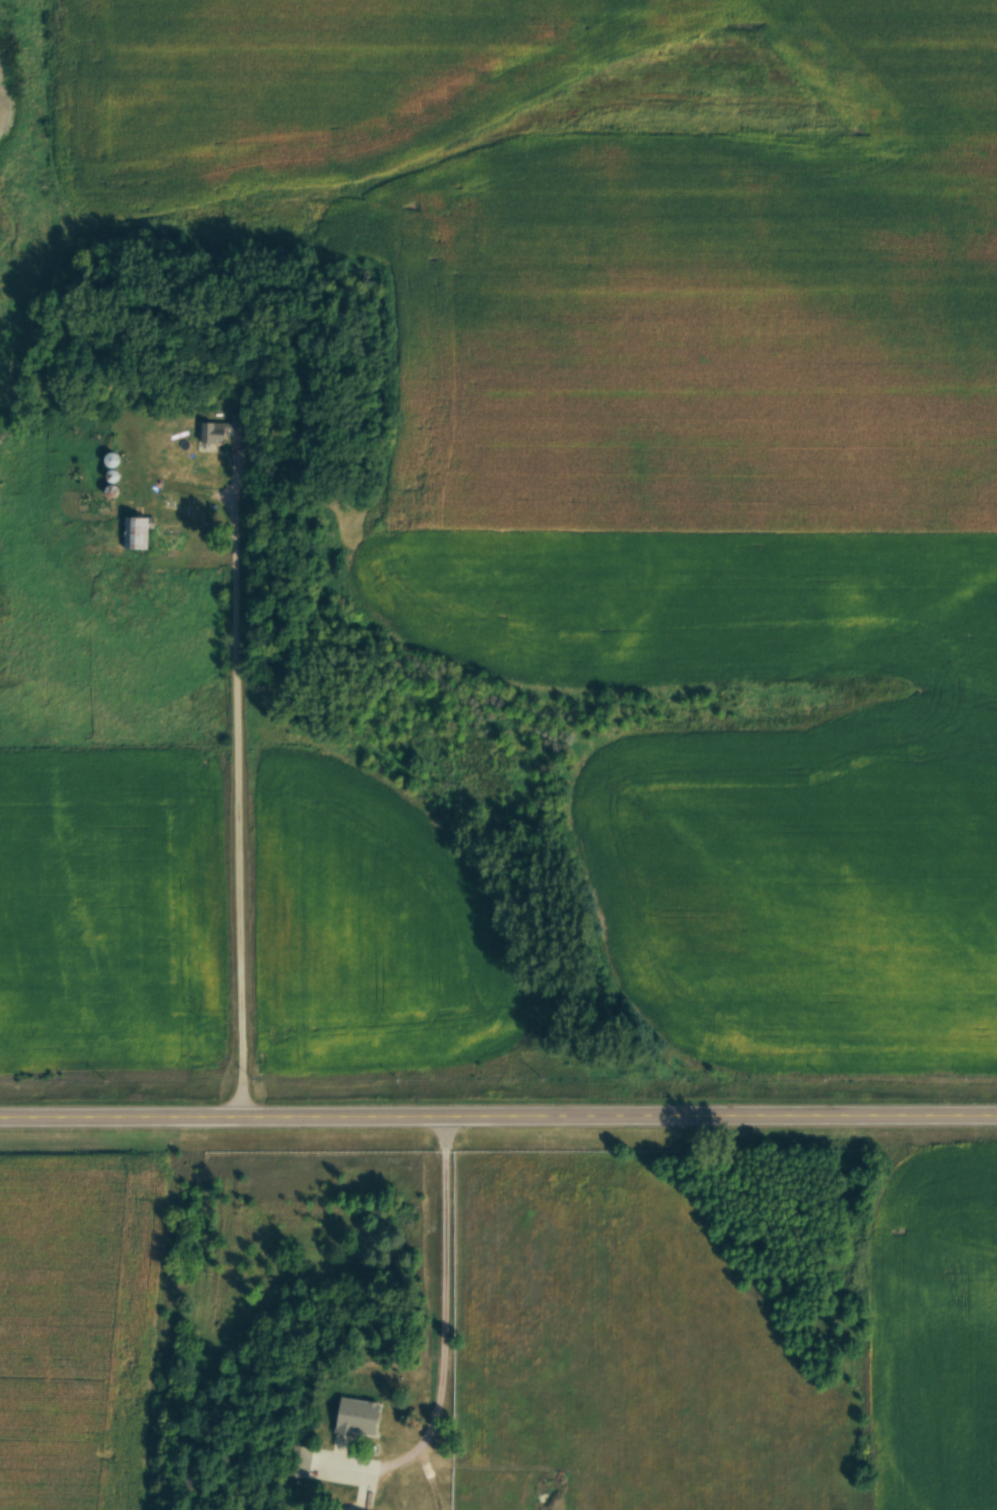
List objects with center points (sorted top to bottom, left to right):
building: (219, 429)
building: (113, 460)
building: (137, 533)
road: (238, 780)
road: (498, 1112)
road: (444, 1318)
building: (359, 1416)
building: (303, 1461)
building: (340, 1509)

